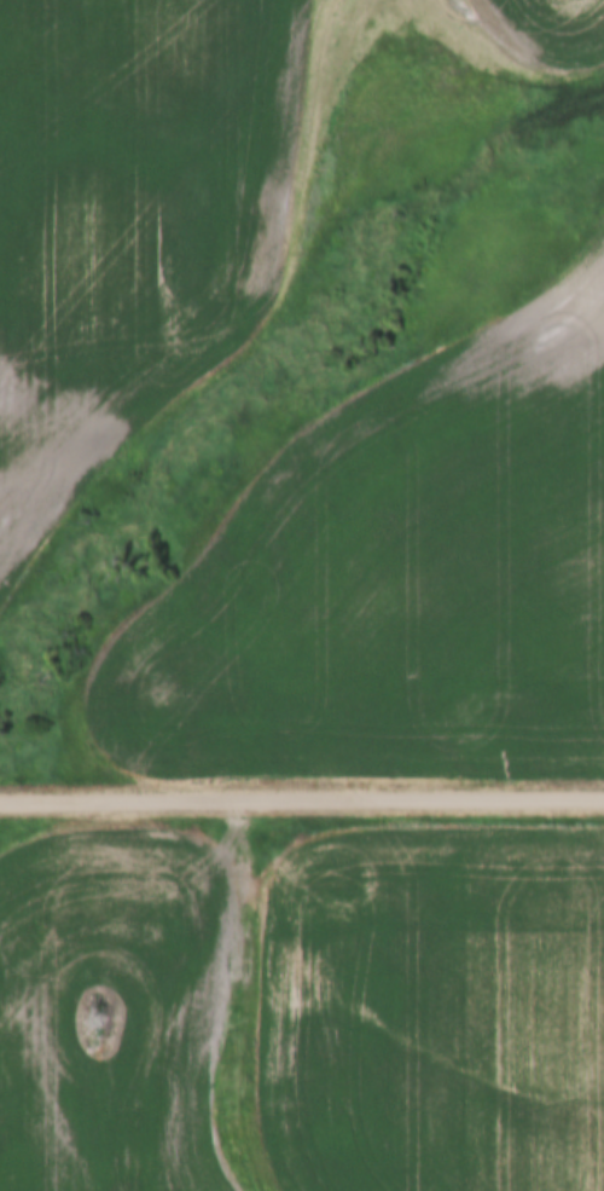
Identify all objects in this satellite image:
road: (302, 794)

